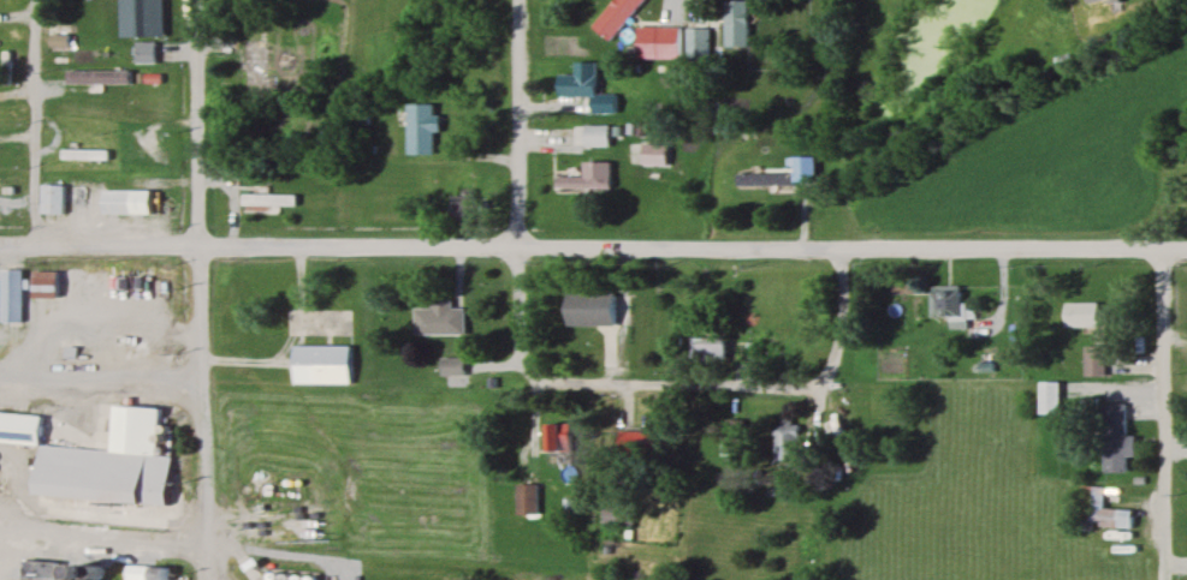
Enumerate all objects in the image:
building: (1103, 1)
building: (618, 17)
building: (78, 19)
building: (149, 19)
building: (737, 24)
building: (660, 43)
building: (699, 46)
building: (147, 52)
building: (4, 70)
building: (256, 70)
building: (101, 77)
building: (582, 80)
road: (34, 122)
building: (423, 127)
building: (135, 136)
building: (597, 136)
crop: (1041, 161)
building: (588, 178)
road: (515, 180)
building: (765, 180)
building: (51, 198)
building: (268, 198)
building: (125, 201)
road: (256, 246)
road: (849, 249)
building: (46, 282)
road: (195, 289)
building: (257, 289)
building: (10, 295)
building: (339, 305)
road: (839, 306)
building: (592, 309)
building: (952, 309)
building: (1082, 316)
building: (441, 319)
building: (712, 348)
building: (322, 363)
building: (452, 365)
road: (99, 384)
road: (677, 384)
building: (1047, 397)
building: (1090, 406)
road: (1161, 414)
building: (22, 427)
building: (559, 437)
building: (729, 440)
building: (1117, 440)
building: (785, 442)
building: (640, 443)
building: (112, 462)
building: (527, 496)
building: (565, 503)
building: (1100, 510)
building: (617, 513)
building: (32, 572)

